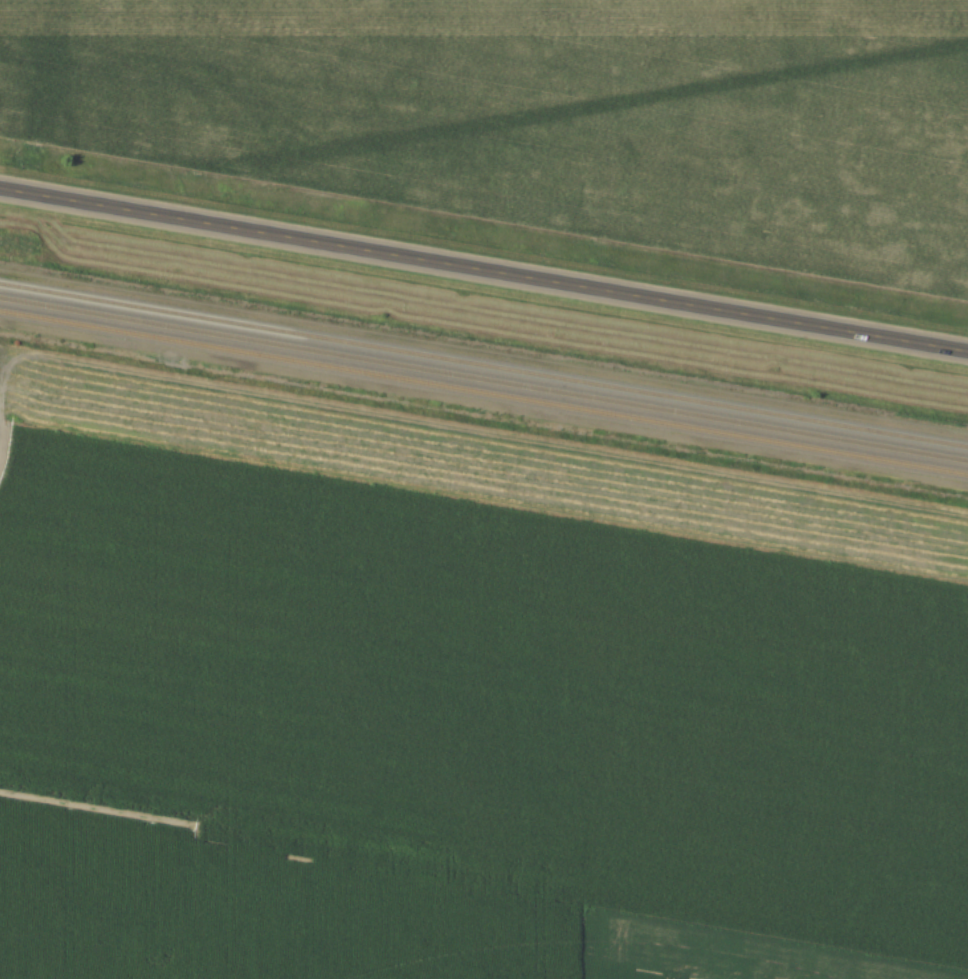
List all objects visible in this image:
crop: (543, 114)
road: (484, 269)
railway: (484, 364)
railway: (484, 378)
railway: (484, 391)

